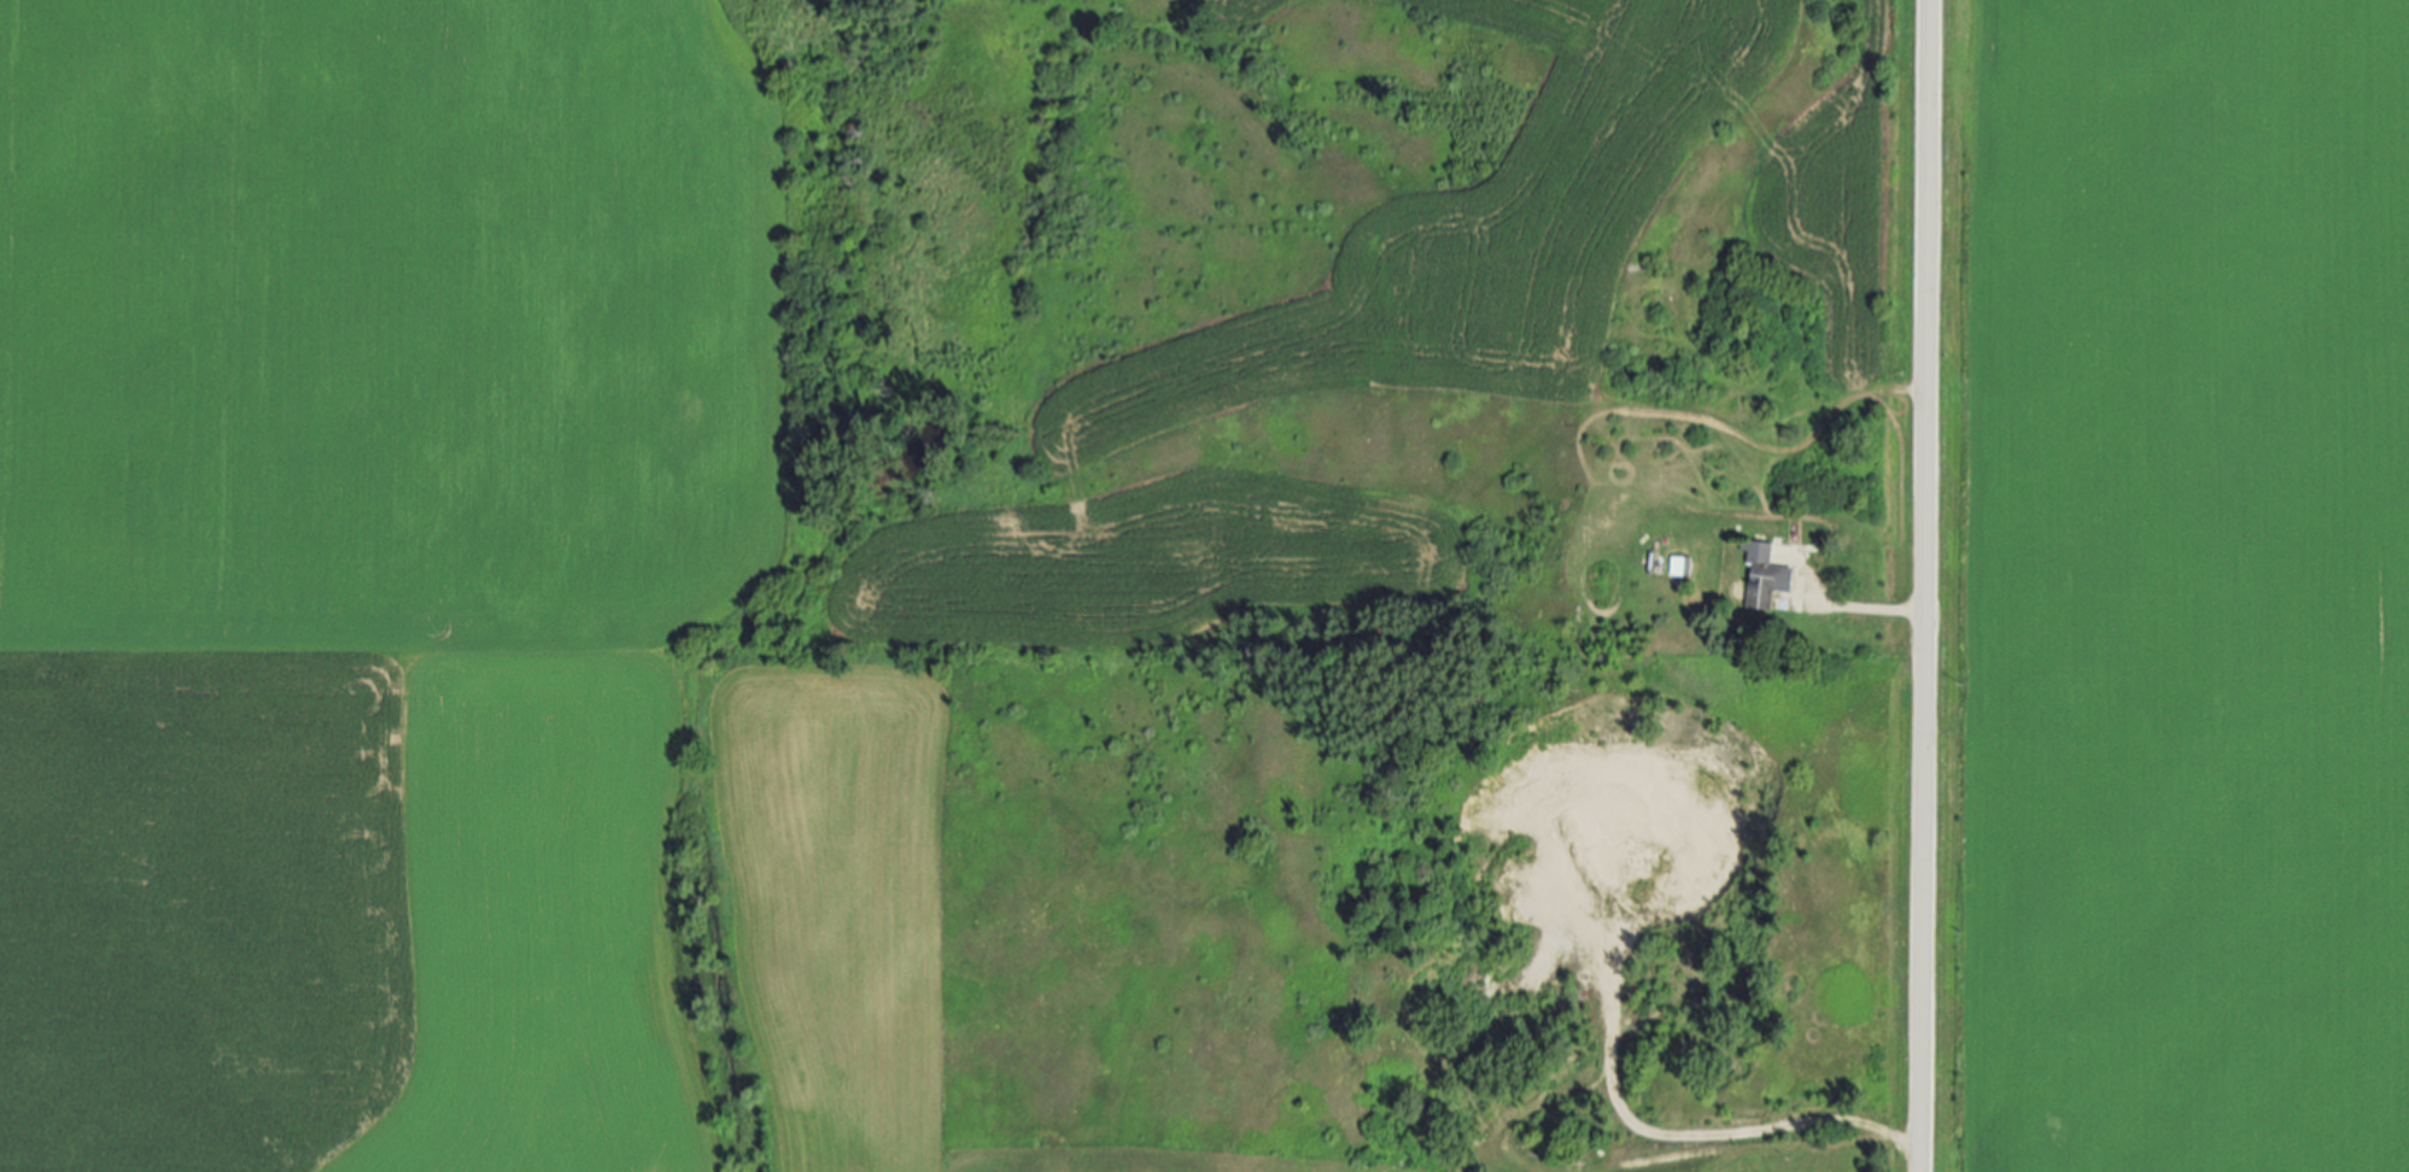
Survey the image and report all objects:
building: (1767, 575)
road: (1925, 586)
road: (1876, 608)
road: (1639, 1132)

